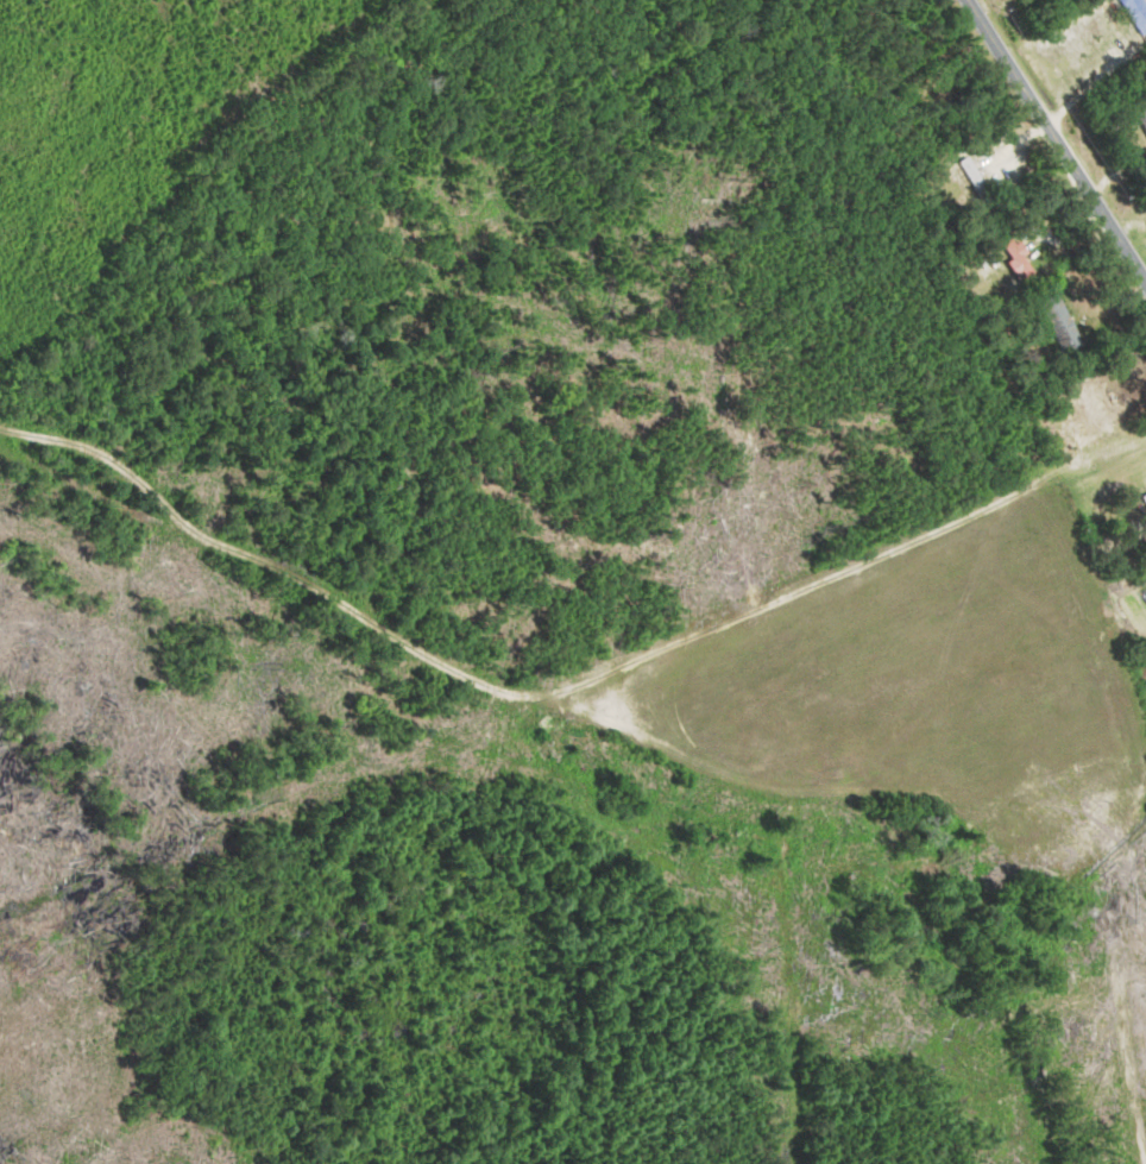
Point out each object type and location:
building: (1138, 12)
building: (1144, 114)
road: (1057, 139)
building: (980, 183)
building: (1019, 257)
building: (1065, 323)
building: (1145, 498)

